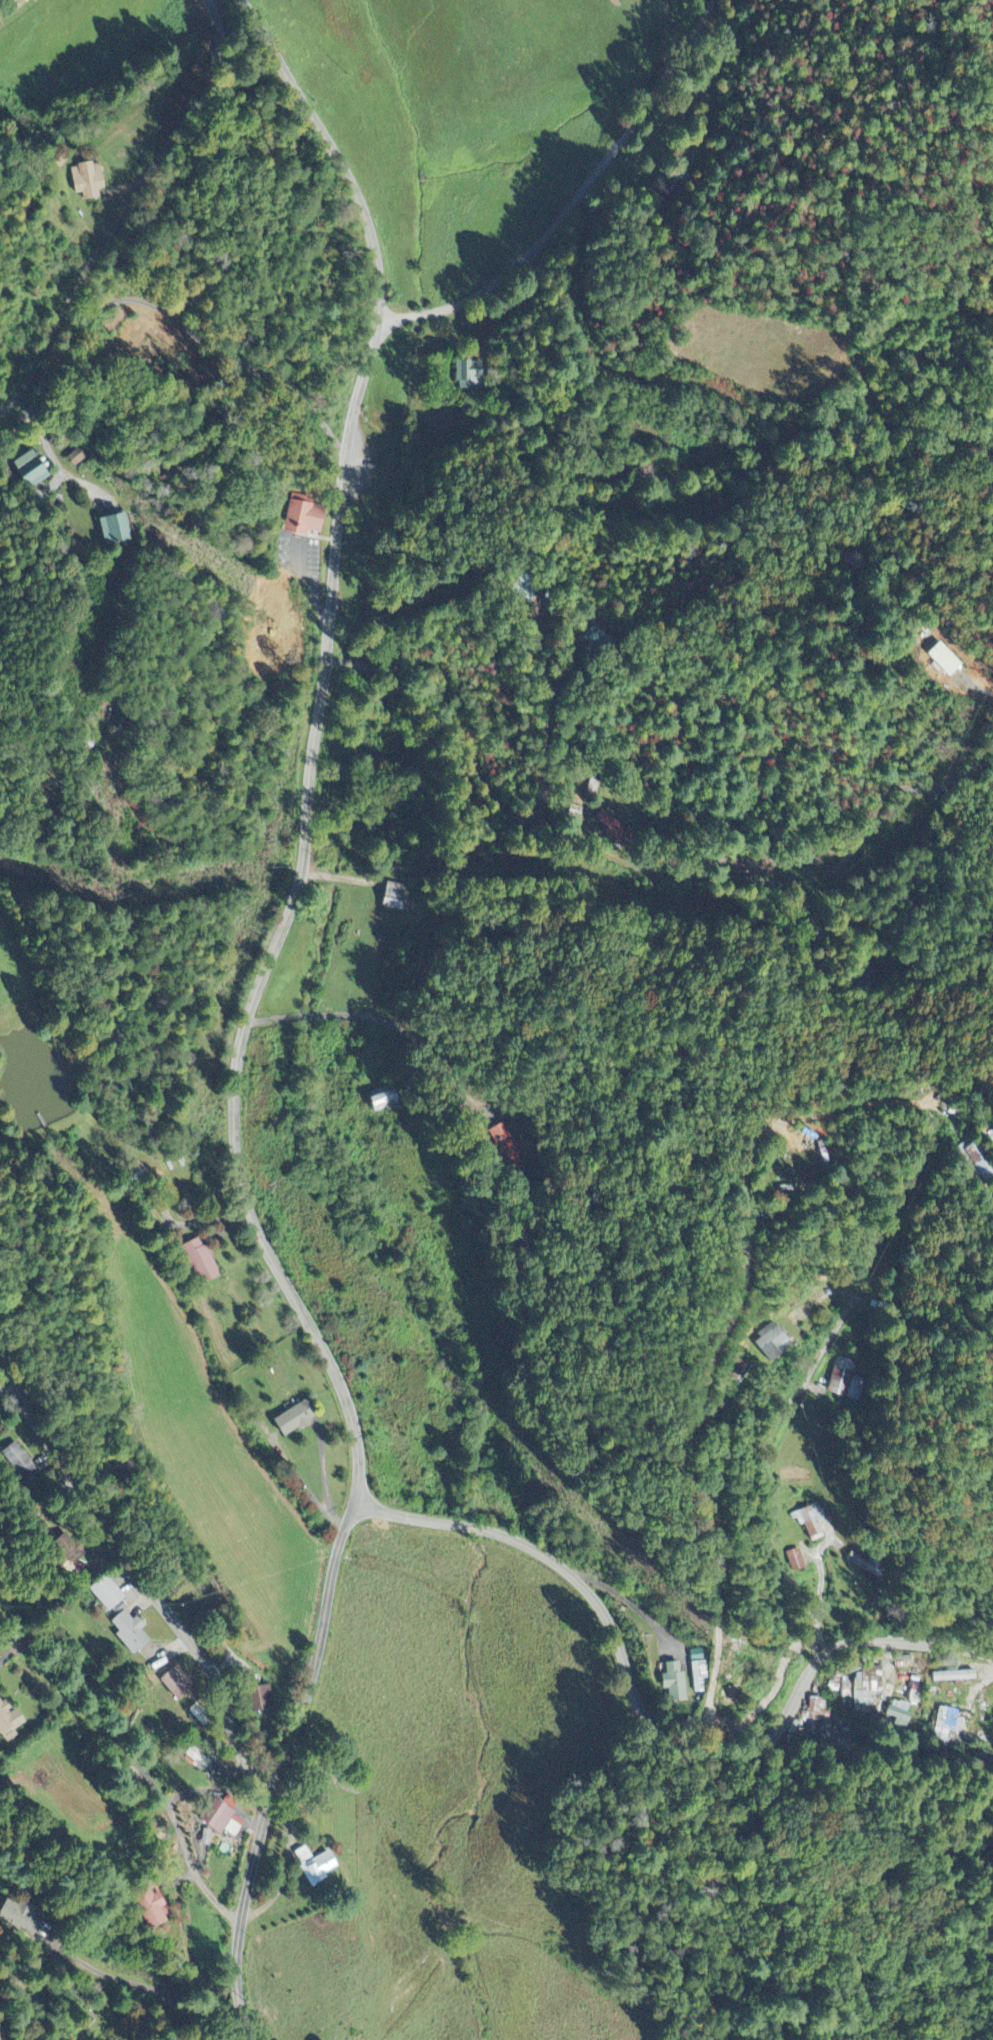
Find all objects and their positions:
road: (331, 148)
road: (600, 167)
building: (90, 181)
building: (665, 194)
road: (125, 208)
road: (421, 316)
road: (382, 326)
building: (469, 376)
building: (79, 459)
building: (35, 471)
building: (303, 512)
building: (119, 531)
building: (596, 640)
building: (945, 661)
building: (616, 830)
building: (396, 898)
road: (283, 921)
road: (758, 1089)
building: (384, 1101)
building: (510, 1147)
building: (203, 1261)
road: (636, 1333)
building: (775, 1345)
building: (847, 1381)
building: (299, 1419)
road: (761, 1458)
building: (20, 1461)
road: (718, 1464)
building: (813, 1523)
building: (70, 1550)
building: (797, 1561)
road: (138, 1567)
building: (109, 1594)
building: (133, 1633)
building: (700, 1671)
building: (956, 1677)
building: (676, 1683)
building: (177, 1686)
building: (869, 1686)
building: (848, 1688)
building: (916, 1693)
building: (265, 1700)
building: (201, 1715)
building: (900, 1715)
building: (817, 1716)
building: (10, 1723)
road: (653, 1725)
building: (952, 1726)
road: (279, 1771)
building: (220, 1818)
building: (319, 1866)
building: (154, 1908)
building: (21, 1917)

